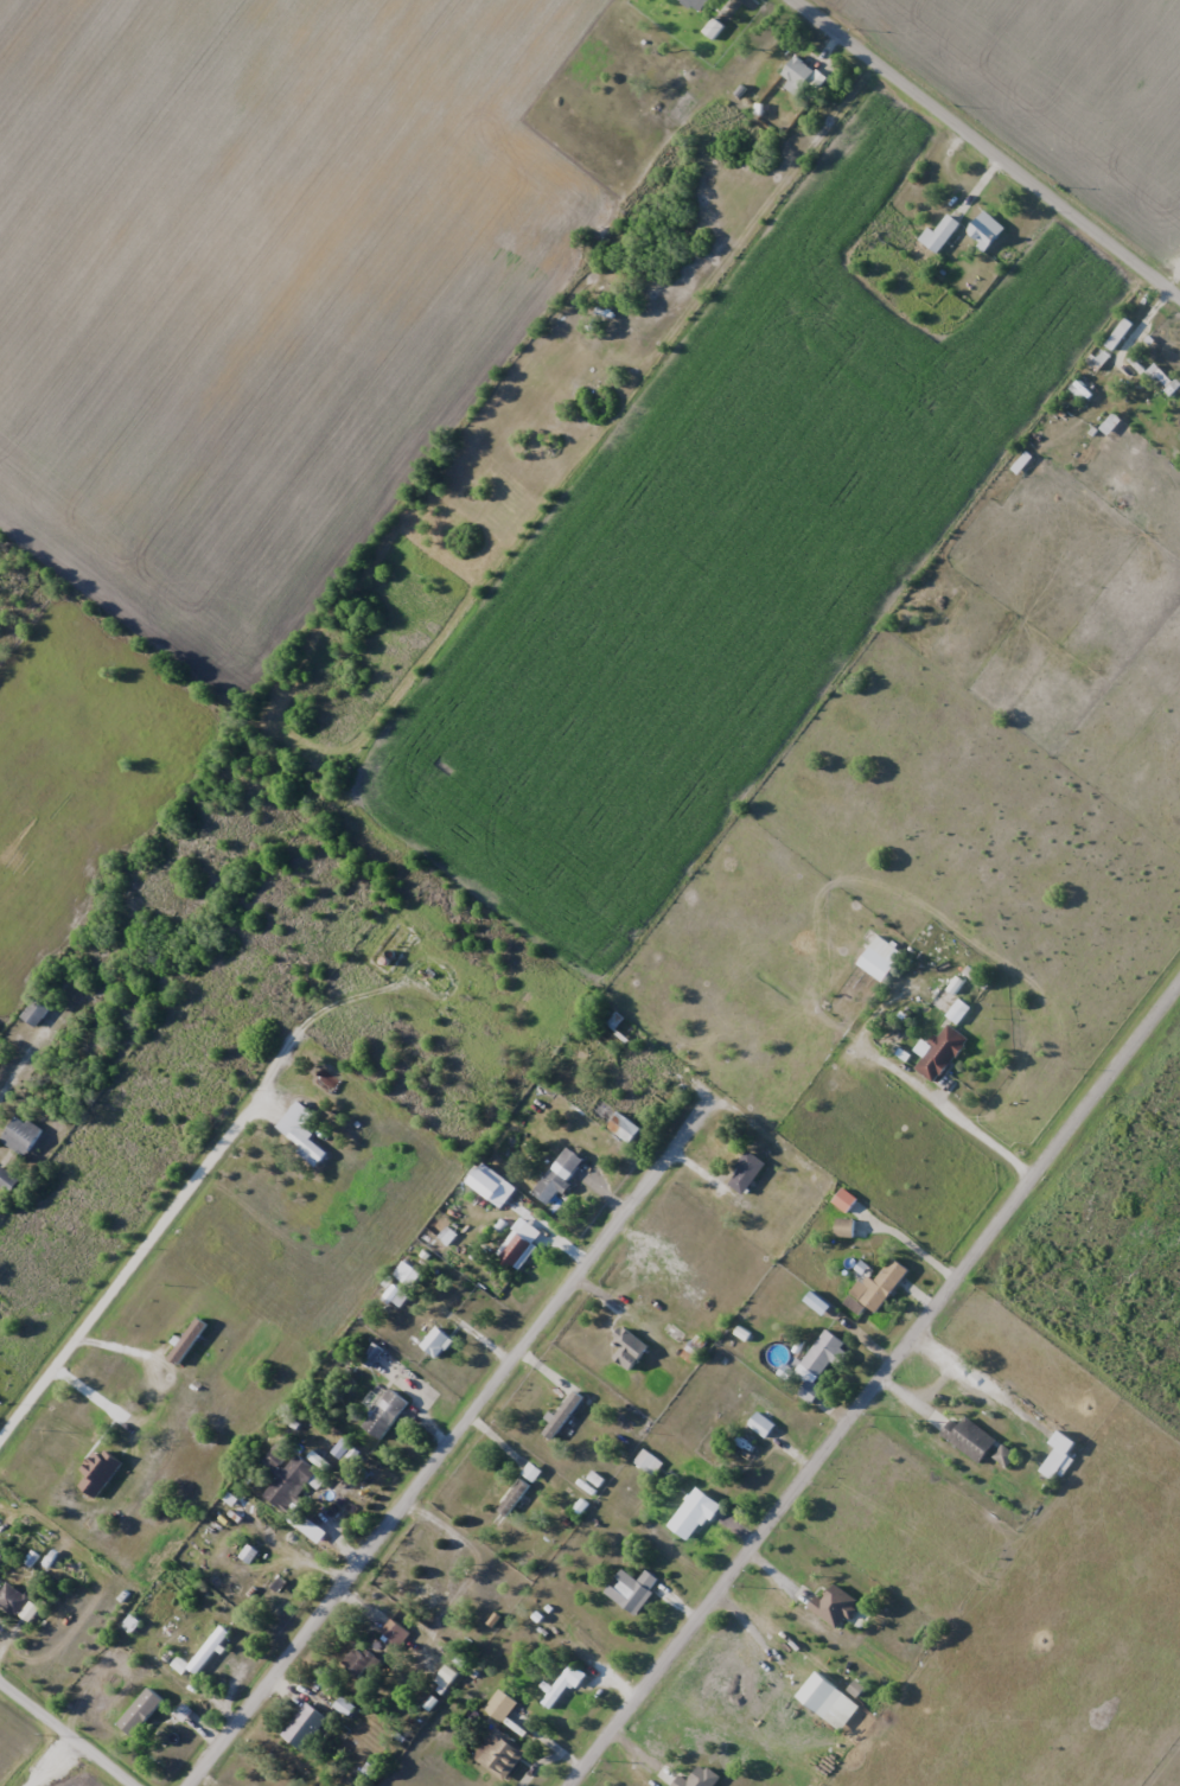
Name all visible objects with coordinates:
building: (697, 4)
building: (712, 28)
building: (797, 76)
road: (980, 153)
building: (986, 230)
building: (939, 234)
building: (1118, 334)
building: (1162, 379)
building: (880, 957)
building: (950, 1004)
building: (36, 1013)
building: (940, 1052)
building: (624, 1127)
building: (299, 1133)
building: (21, 1135)
building: (747, 1172)
building: (557, 1176)
building: (7, 1180)
road: (196, 1181)
building: (483, 1181)
building: (844, 1199)
building: (518, 1250)
building: (880, 1284)
building: (435, 1341)
building: (629, 1347)
building: (819, 1363)
road: (874, 1391)
building: (764, 1402)
building: (384, 1412)
road: (453, 1439)
building: (969, 1439)
building: (739, 1449)
building: (648, 1462)
building: (1054, 1462)
building: (292, 1482)
building: (510, 1503)
building: (693, 1514)
building: (444, 1584)
building: (631, 1589)
building: (18, 1603)
building: (829, 1603)
building: (394, 1633)
building: (208, 1650)
building: (359, 1660)
building: (562, 1686)
building: (499, 1705)
building: (344, 1707)
building: (841, 1712)
building: (143, 1727)
building: (304, 1727)
road: (74, 1730)
building: (499, 1754)
building: (699, 1779)

